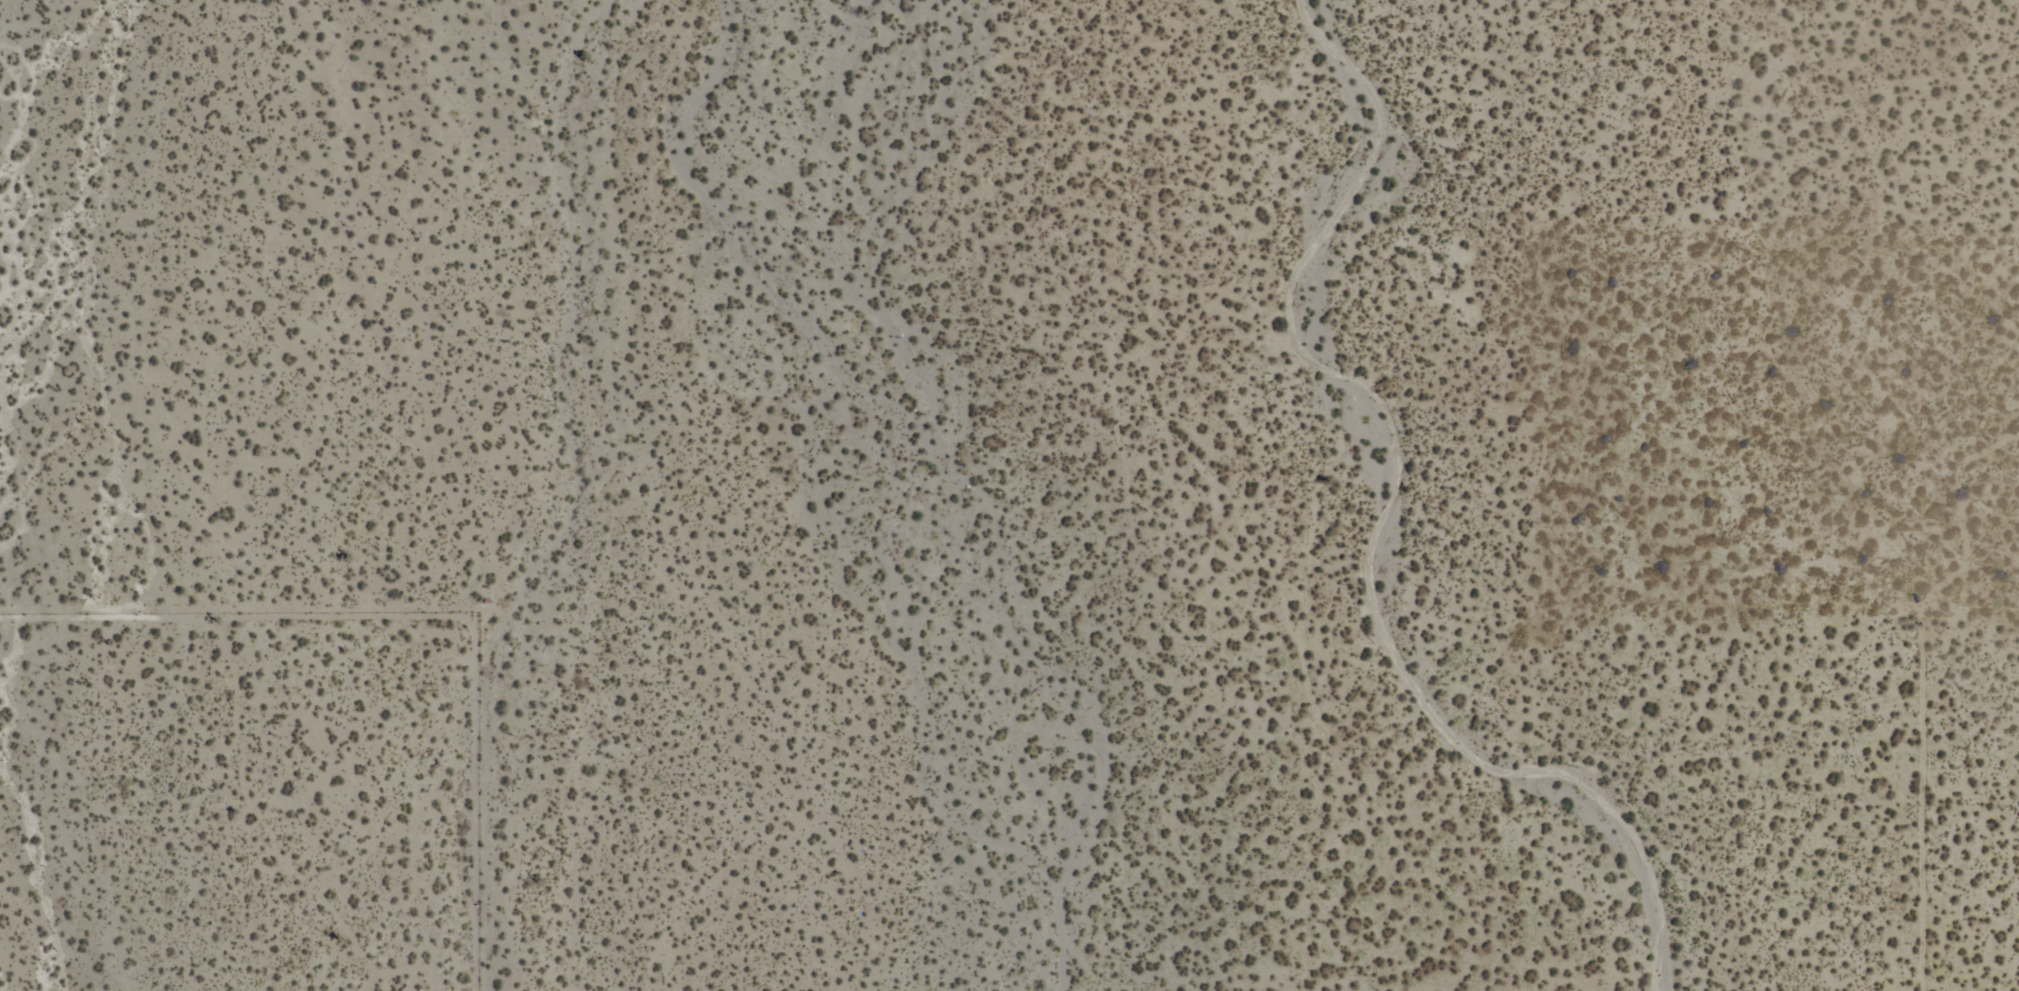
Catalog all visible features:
road: (432, 609)

